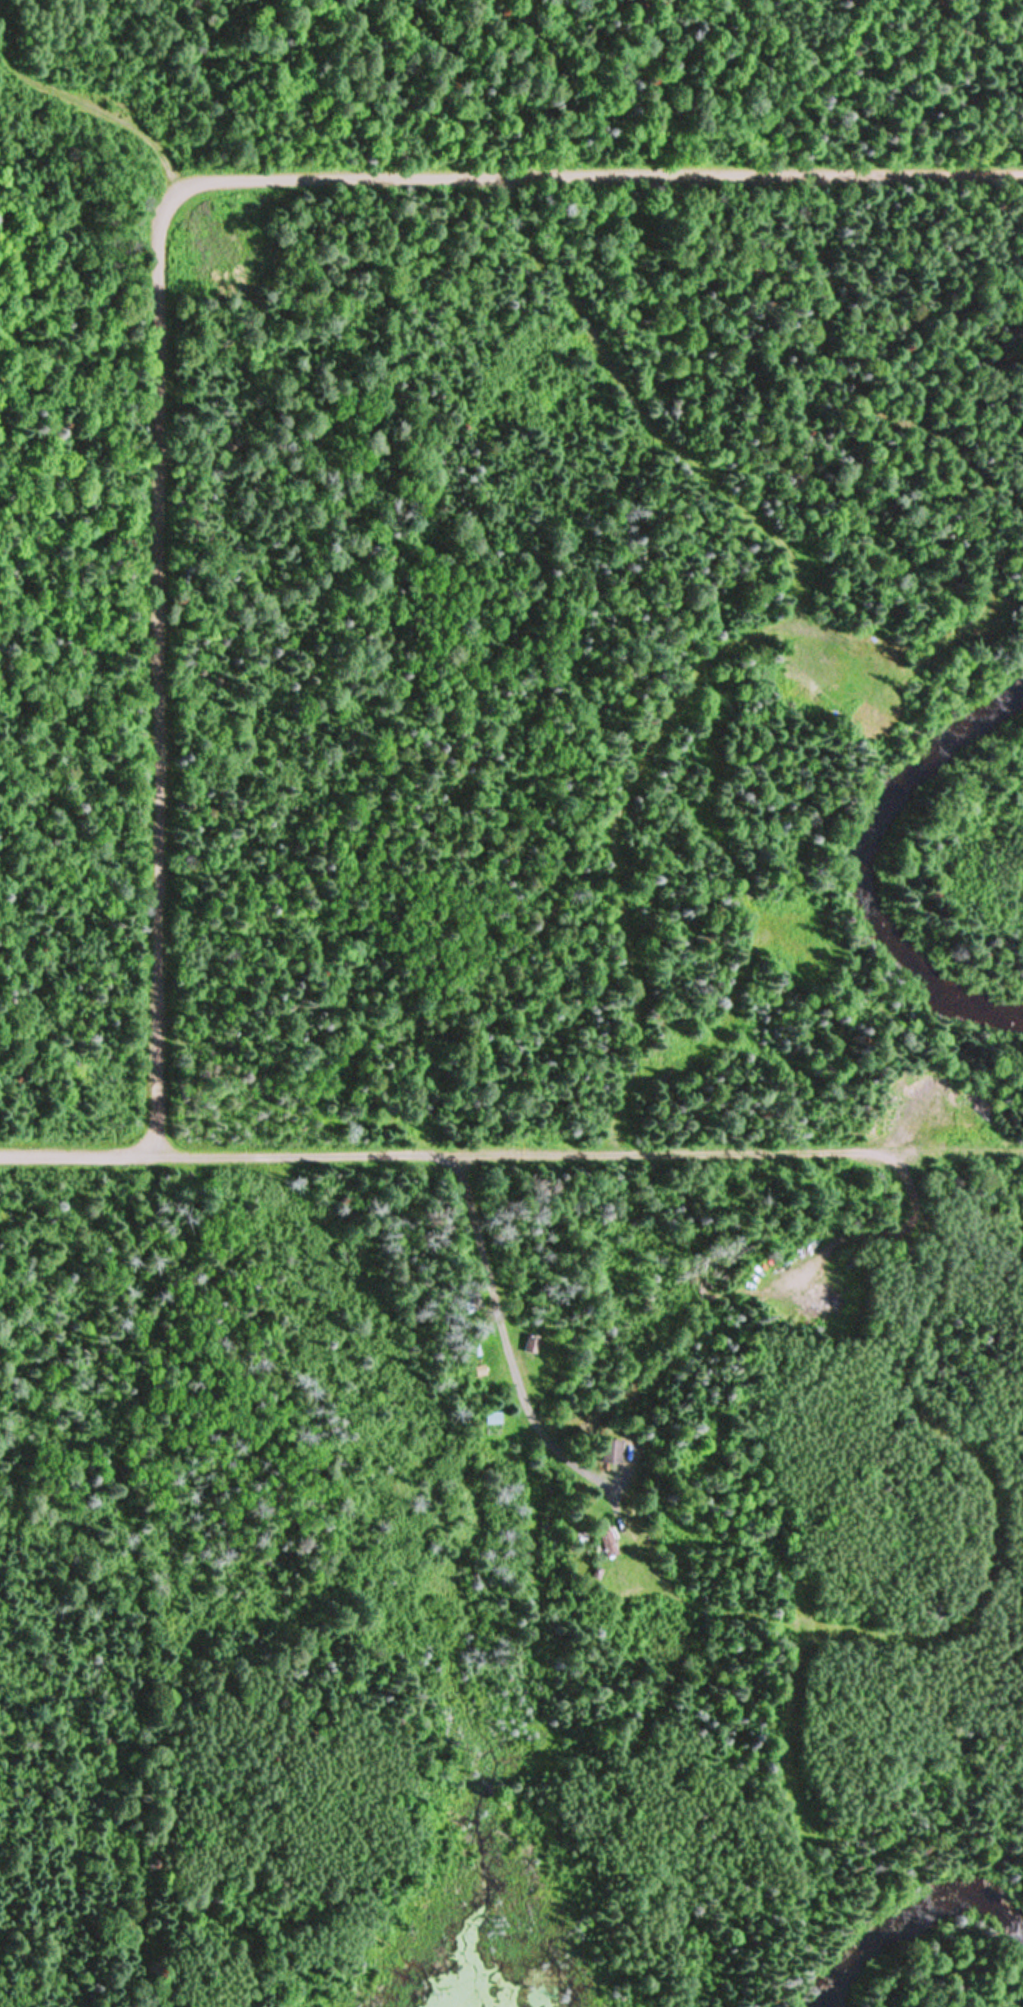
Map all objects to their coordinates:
road: (156, 245)
river: (999, 730)
river: (879, 923)
road: (511, 1152)
building: (527, 1344)
road: (511, 1379)
building: (607, 1451)
building: (601, 1543)
river: (940, 1956)

